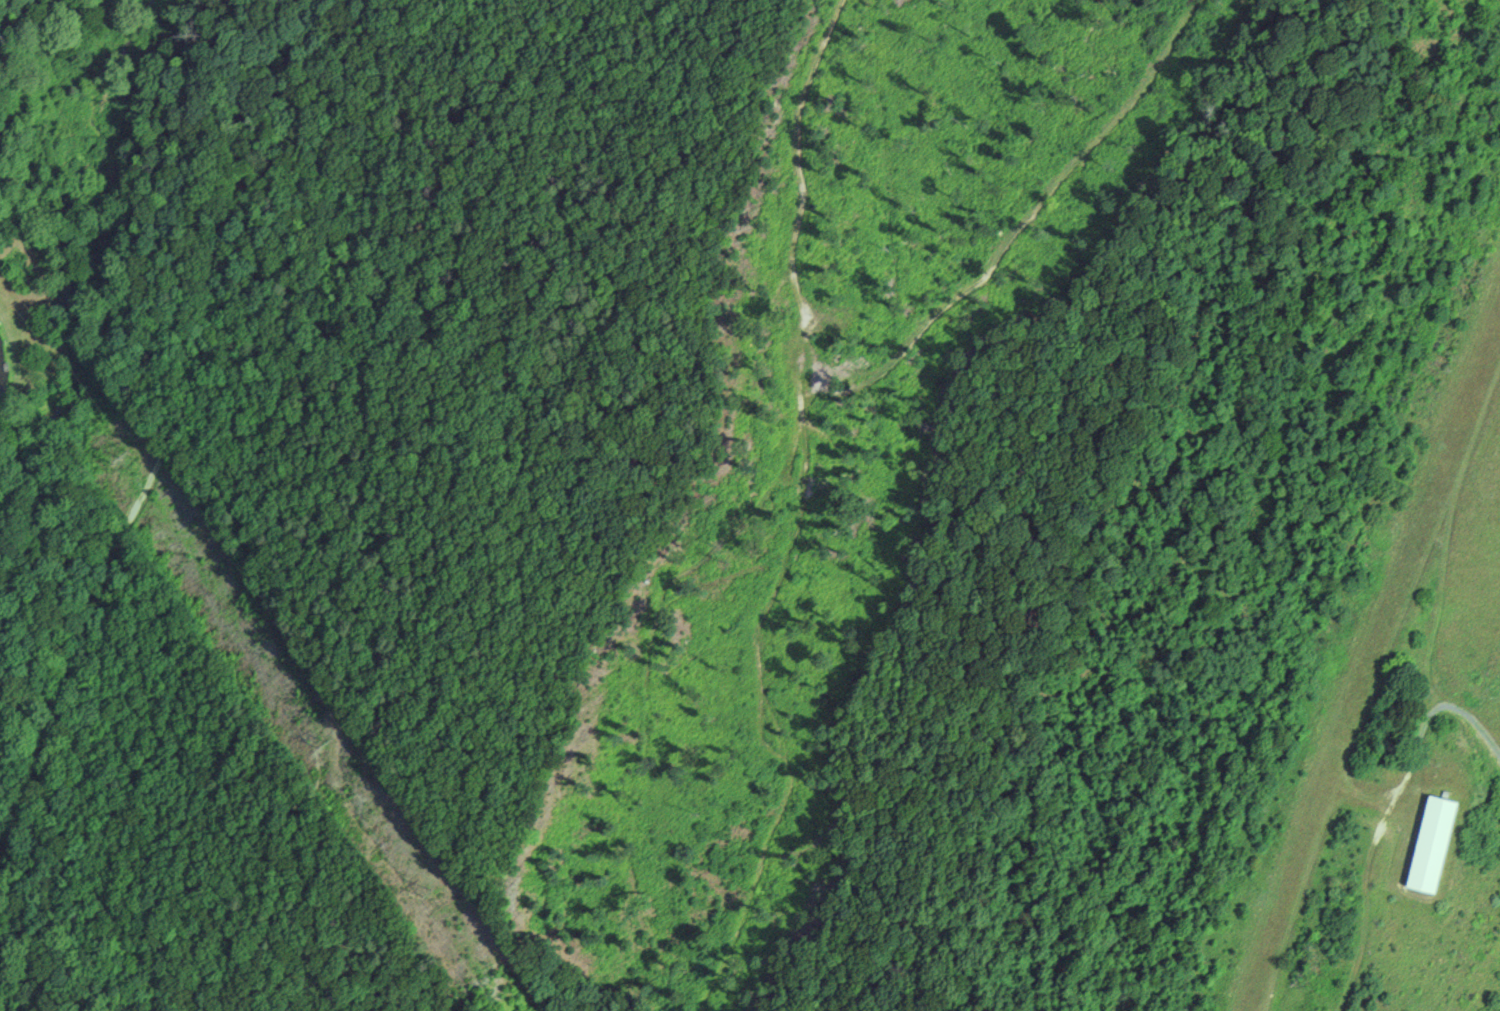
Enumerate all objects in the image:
road: (168, 440)
road: (1476, 721)
building: (1433, 844)

